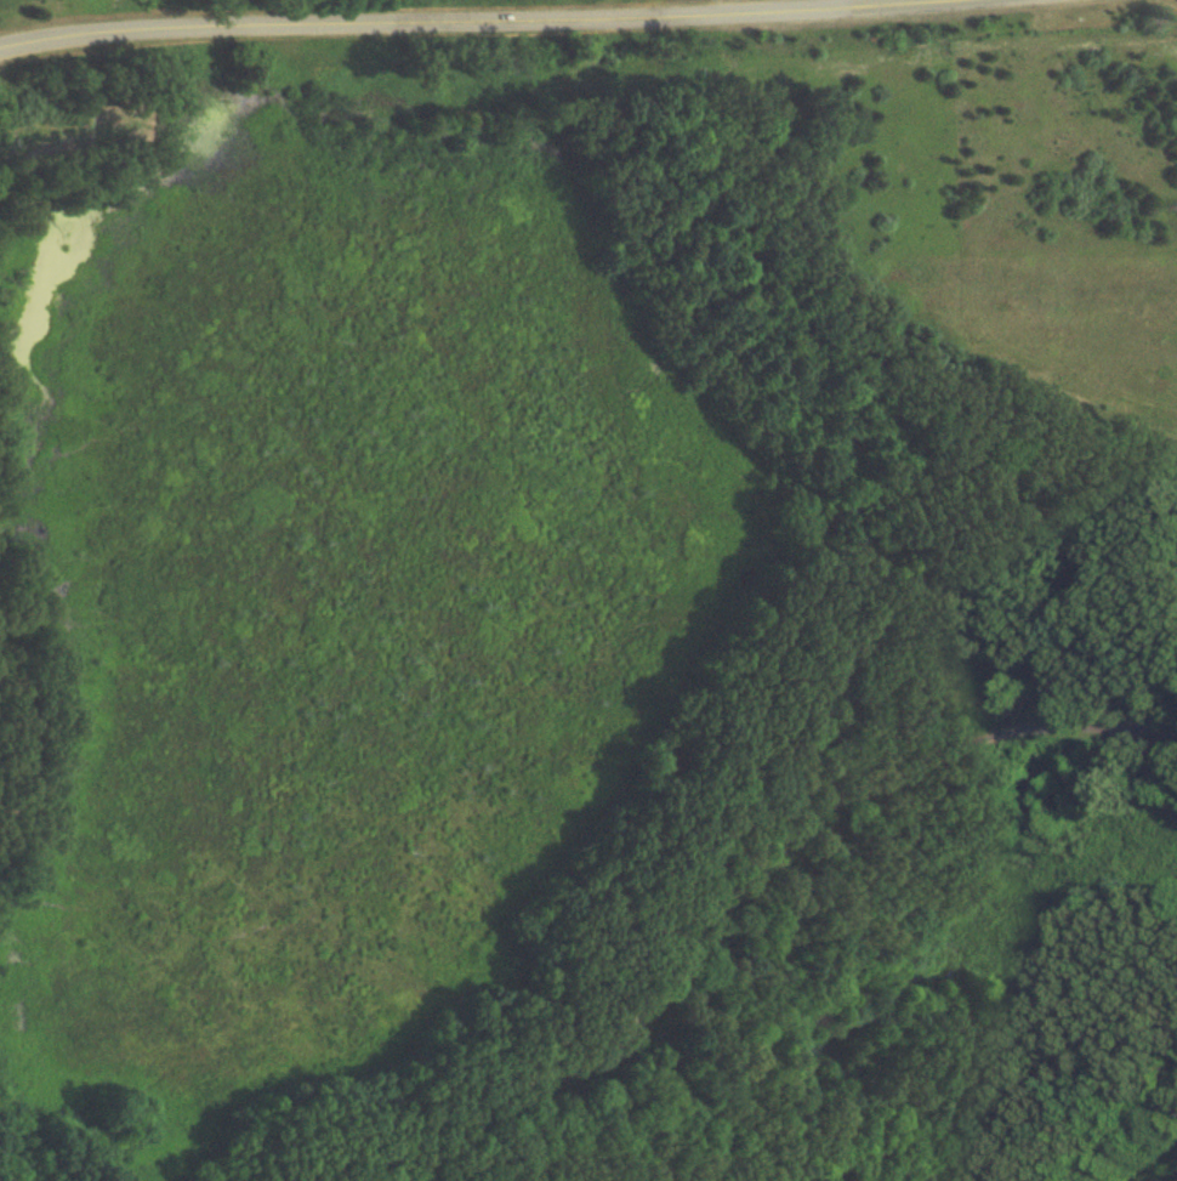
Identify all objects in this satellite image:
road: (603, 17)
road: (95, 34)
road: (754, 879)

